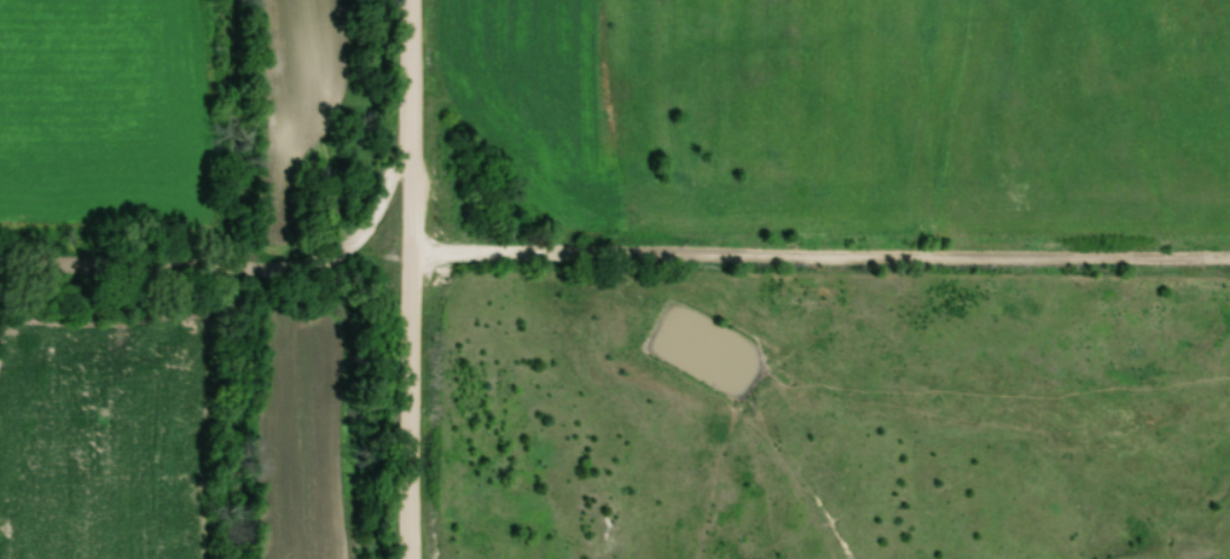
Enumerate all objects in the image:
road: (385, 140)
road: (615, 261)
road: (411, 330)

